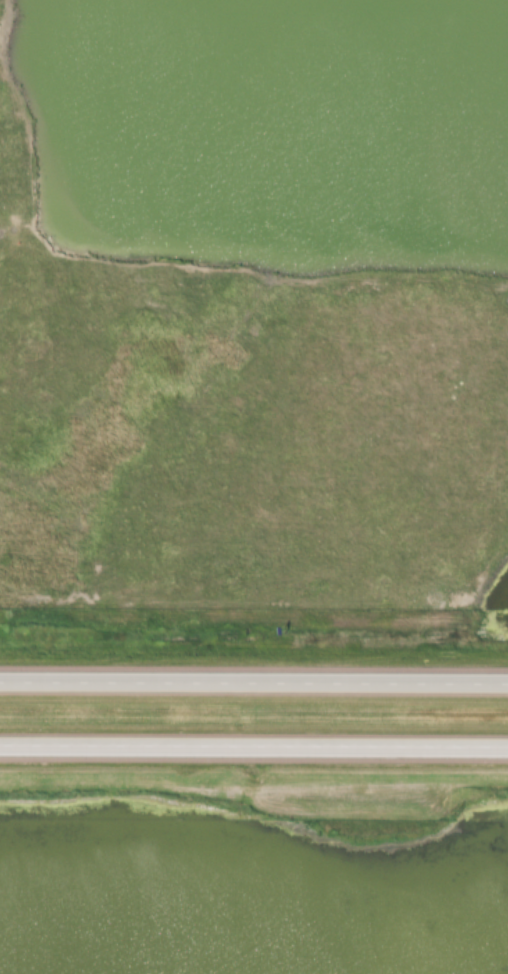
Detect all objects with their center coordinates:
road: (253, 686)
road: (254, 751)

